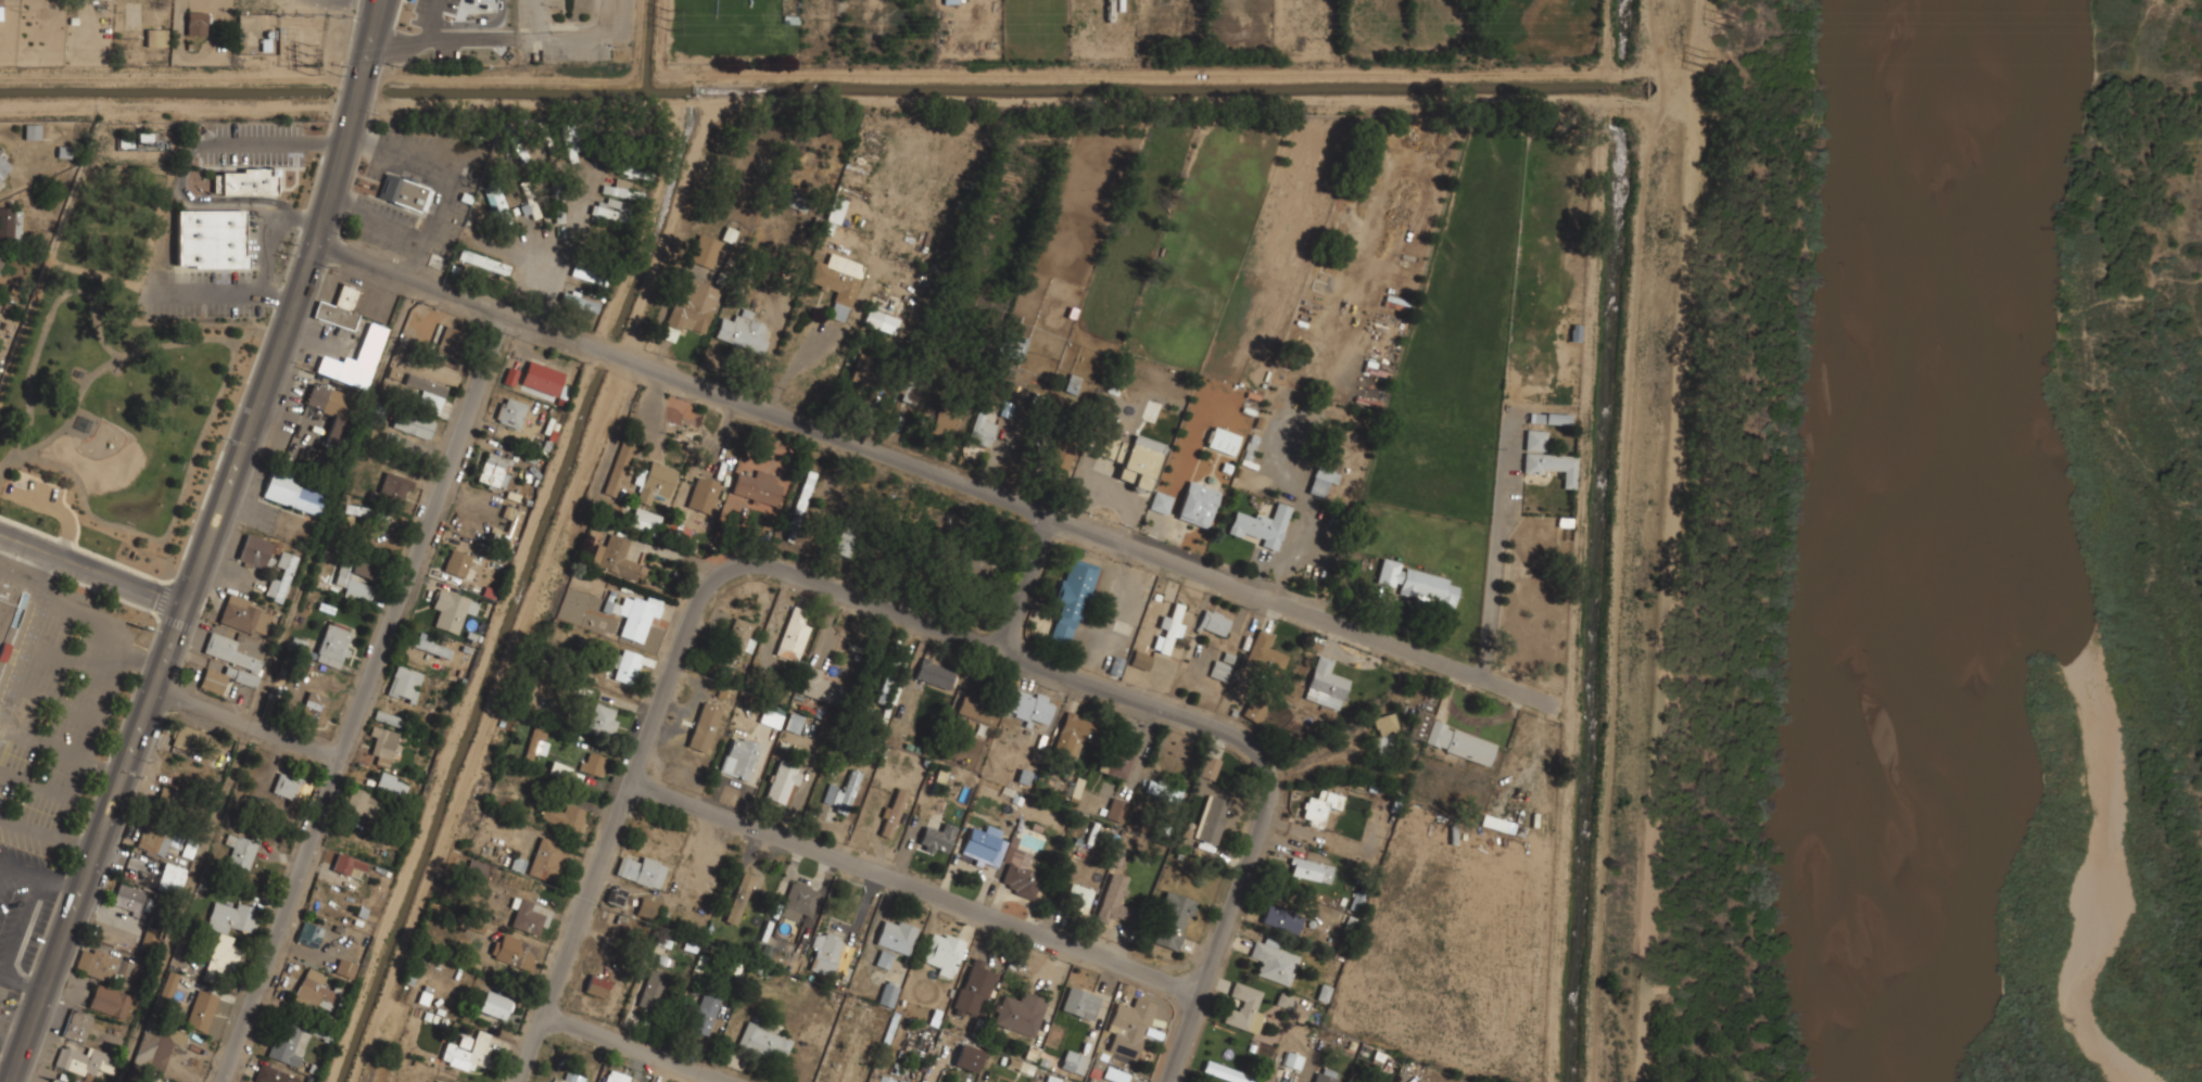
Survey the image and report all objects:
building: (479, 10)
road: (181, 13)
power tower: (1736, 18)
building: (197, 23)
power tower: (1202, 27)
building: (155, 36)
power tower: (316, 55)
power tower: (1728, 58)
building: (33, 130)
building: (573, 150)
building: (4, 165)
building: (634, 166)
building: (245, 182)
building: (622, 188)
building: (404, 191)
building: (531, 199)
building: (498, 204)
building: (610, 209)
building: (836, 209)
building: (11, 222)
building: (210, 239)
building: (705, 250)
building: (1, 262)
building: (483, 262)
building: (1, 266)
building: (590, 272)
building: (837, 281)
road: (547, 284)
building: (580, 302)
building: (338, 307)
building: (691, 309)
building: (881, 319)
building: (743, 330)
building: (450, 340)
building: (1016, 346)
building: (356, 358)
building: (868, 369)
building: (510, 377)
building: (542, 377)
building: (1072, 382)
building: (428, 391)
building: (1142, 391)
building: (332, 409)
building: (510, 411)
park: (116, 417)
building: (1557, 418)
building: (945, 422)
building: (412, 425)
building: (983, 431)
building: (1223, 440)
building: (1535, 440)
building: (1110, 447)
building: (1061, 457)
building: (1140, 461)
building: (1553, 464)
building: (619, 468)
building: (495, 469)
road: (936, 475)
building: (656, 482)
building: (1324, 482)
building: (756, 485)
building: (393, 487)
building: (292, 491)
building: (700, 495)
building: (811, 501)
building: (1161, 501)
building: (1199, 502)
building: (366, 511)
building: (644, 521)
building: (1261, 526)
building: (499, 537)
river: (1938, 540)
building: (376, 542)
building: (845, 542)
road: (205, 544)
building: (255, 551)
building: (616, 557)
building: (457, 563)
building: (977, 563)
road: (91, 570)
building: (281, 576)
building: (355, 577)
building: (1417, 582)
road: (1024, 585)
building: (1072, 603)
building: (452, 610)
building: (587, 612)
road: (896, 613)
building: (244, 614)
building: (633, 614)
building: (1214, 622)
building: (10, 625)
building: (1169, 628)
building: (793, 634)
building: (737, 638)
building: (333, 645)
building: (430, 646)
building: (1265, 653)
building: (1141, 659)
building: (228, 663)
building: (629, 665)
building: (1220, 670)
building: (934, 672)
building: (888, 678)
building: (405, 684)
building: (1326, 685)
building: (824, 688)
road: (369, 700)
building: (314, 707)
building: (978, 707)
building: (1030, 707)
building: (1253, 712)
building: (772, 715)
building: (389, 717)
building: (603, 720)
building: (794, 722)
road: (252, 725)
building: (704, 726)
building: (1419, 726)
building: (1072, 734)
building: (1385, 734)
building: (382, 741)
building: (1460, 742)
building: (535, 743)
building: (190, 744)
building: (739, 756)
building: (593, 762)
building: (1119, 763)
building: (1210, 766)
building: (392, 784)
building: (781, 784)
building: (291, 787)
building: (1164, 790)
building: (841, 793)
building: (170, 800)
building: (362, 802)
building: (1320, 806)
building: (1117, 809)
building: (893, 812)
building: (564, 816)
building: (1212, 824)
building: (937, 838)
building: (157, 839)
building: (984, 844)
building: (241, 850)
building: (546, 858)
building: (350, 864)
building: (476, 868)
building: (642, 869)
building: (1311, 871)
building: (1021, 873)
road: (40, 876)
building: (170, 878)
road: (914, 889)
building: (616, 895)
building: (1078, 896)
building: (739, 898)
building: (138, 900)
building: (1116, 900)
building: (799, 901)
building: (646, 906)
building: (530, 916)
building: (1281, 918)
building: (1174, 920)
building: (228, 933)
building: (309, 933)
building: (896, 934)
building: (149, 939)
building: (514, 951)
building: (942, 953)
building: (826, 954)
building: (1274, 959)
building: (115, 967)
building: (345, 967)
road: (22, 982)
building: (168, 984)
building: (597, 984)
building: (974, 988)
building: (654, 989)
building: (315, 990)
building: (888, 993)
building: (1287, 1000)
building: (110, 1001)
building: (1080, 1003)
building: (494, 1004)
building: (1244, 1008)
building: (201, 1009)
building: (705, 1013)
building: (1021, 1014)
building: (77, 1024)
building: (1129, 1027)
building: (764, 1042)
building: (156, 1044)
building: (288, 1044)
road: (640, 1047)
building: (468, 1051)
building: (1070, 1059)
building: (85, 1060)
building: (1293, 1060)
building: (1384, 1060)
building: (852, 1066)
building: (959, 1069)
building: (1098, 1069)
building: (1227, 1073)
building: (273, 1074)
building: (1114, 1074)
building: (1326, 1074)
building: (616, 1077)
road: (5, 1078)
building: (1404, 1079)
building: (900, 1080)
building: (54, 1081)
building: (438, 1081)
building: (885, 1081)

